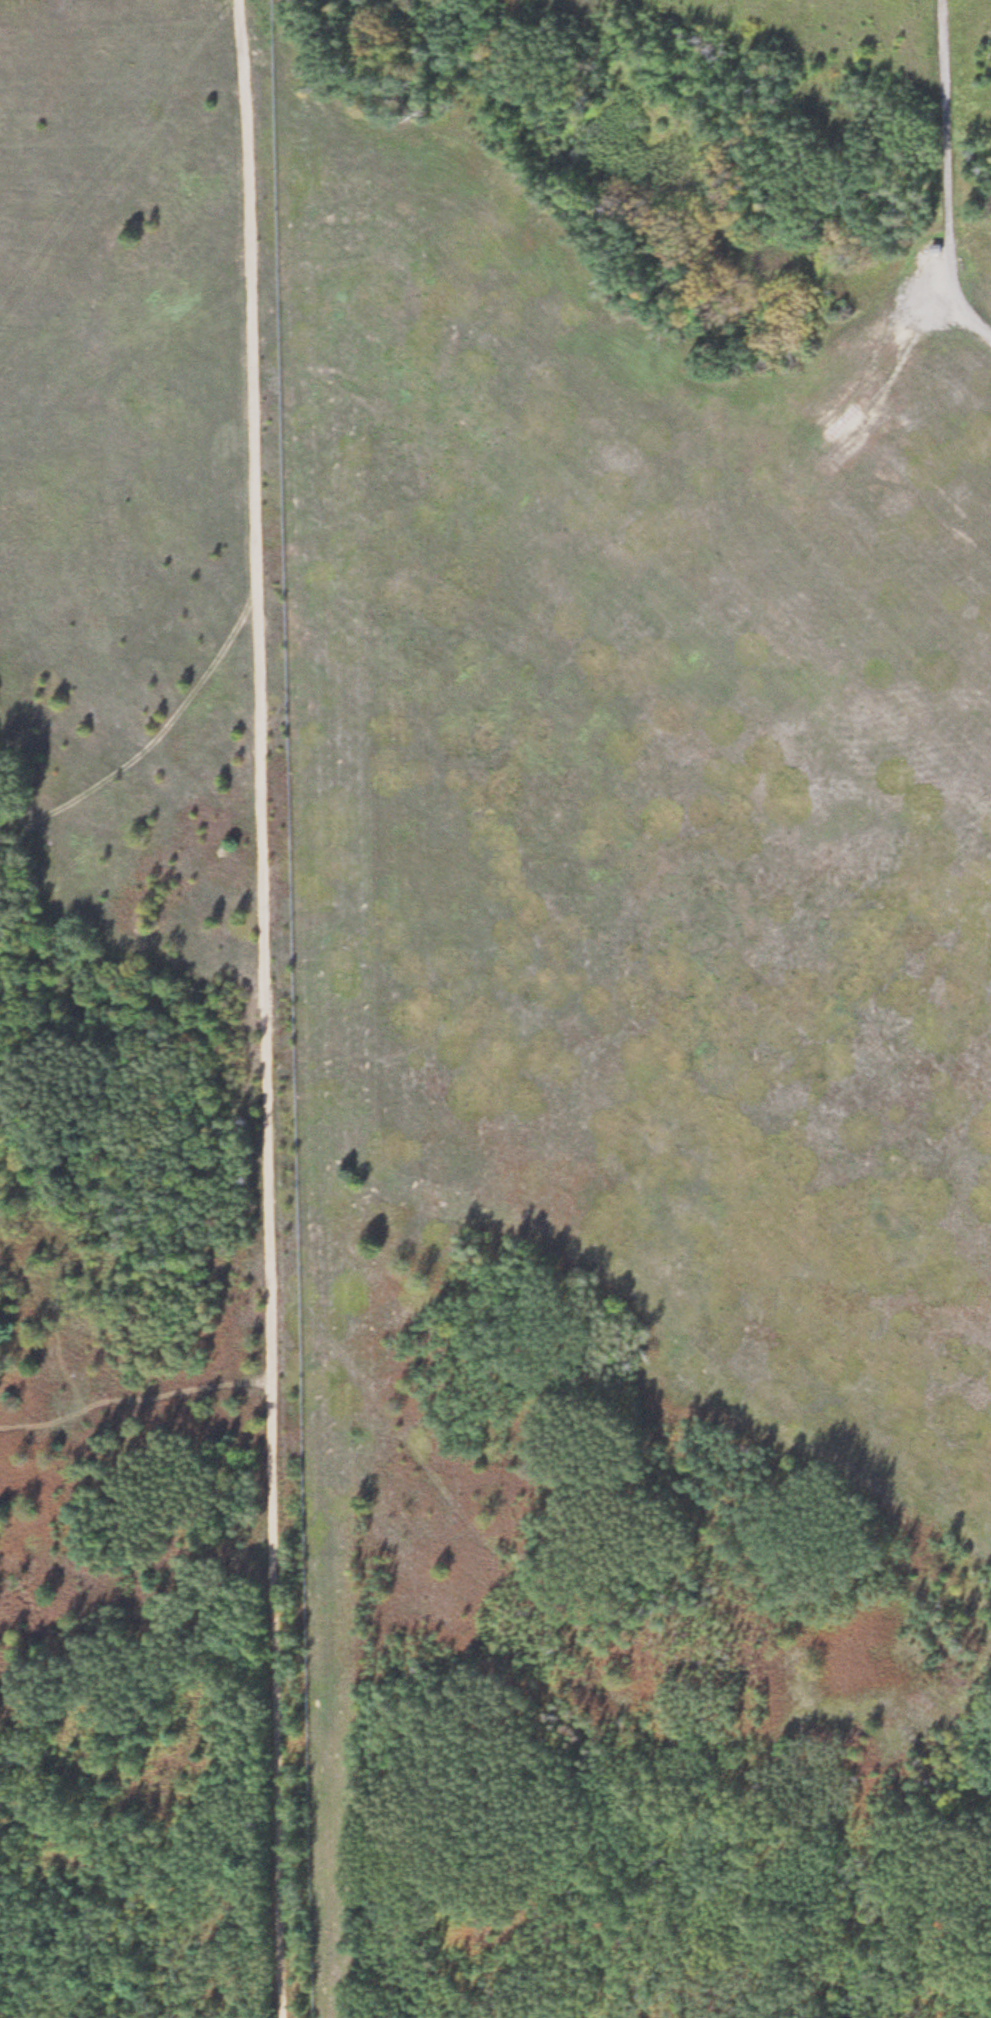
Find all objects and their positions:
airport: (640, 998)
road: (259, 1008)

